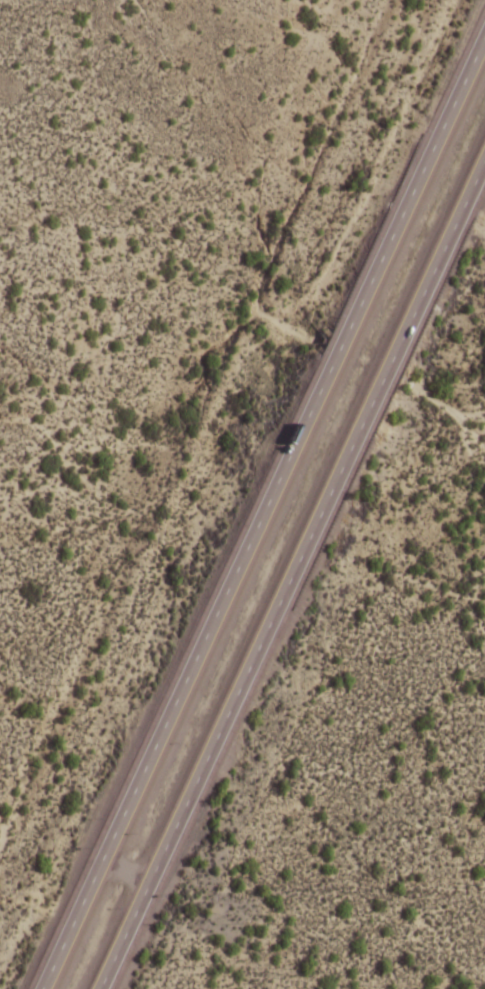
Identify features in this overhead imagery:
road: (262, 510)
road: (292, 574)
road: (314, 749)

